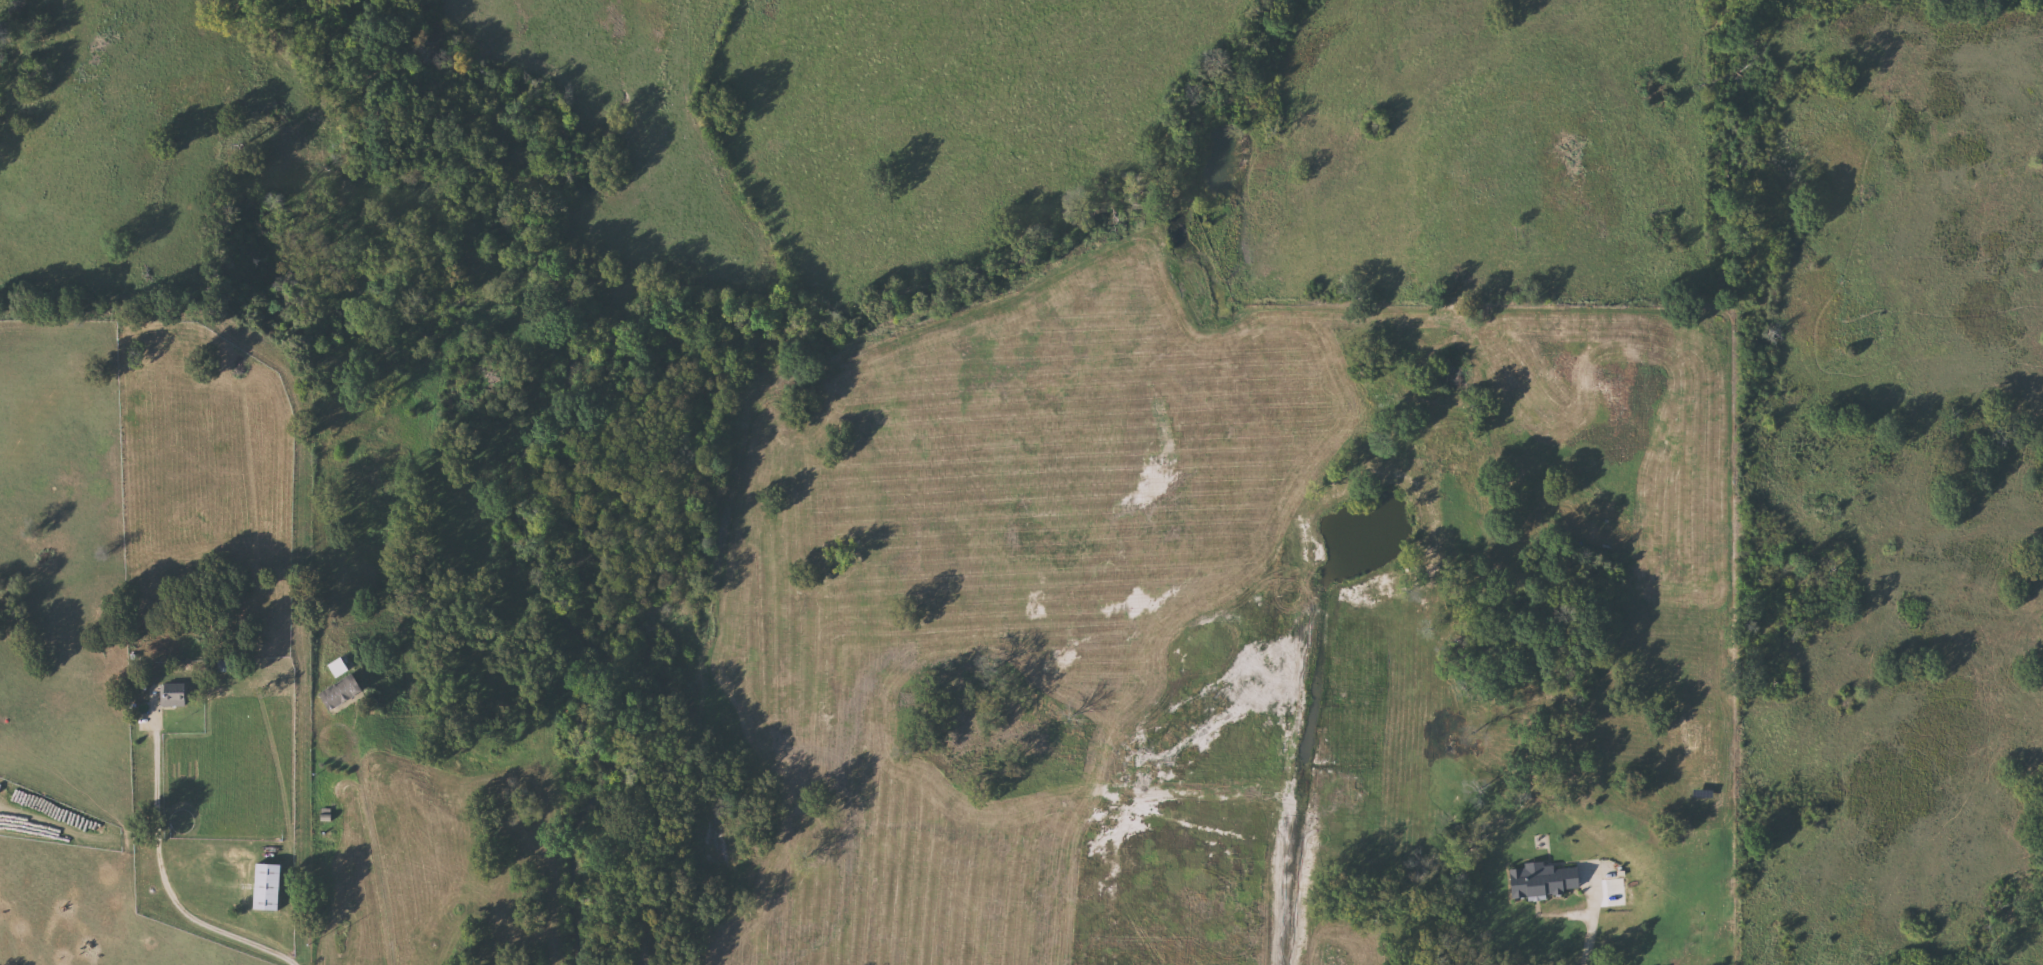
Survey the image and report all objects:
building: (343, 692)
building: (175, 695)
road: (329, 724)
road: (379, 860)
road: (163, 877)
building: (269, 886)
road: (1589, 927)

